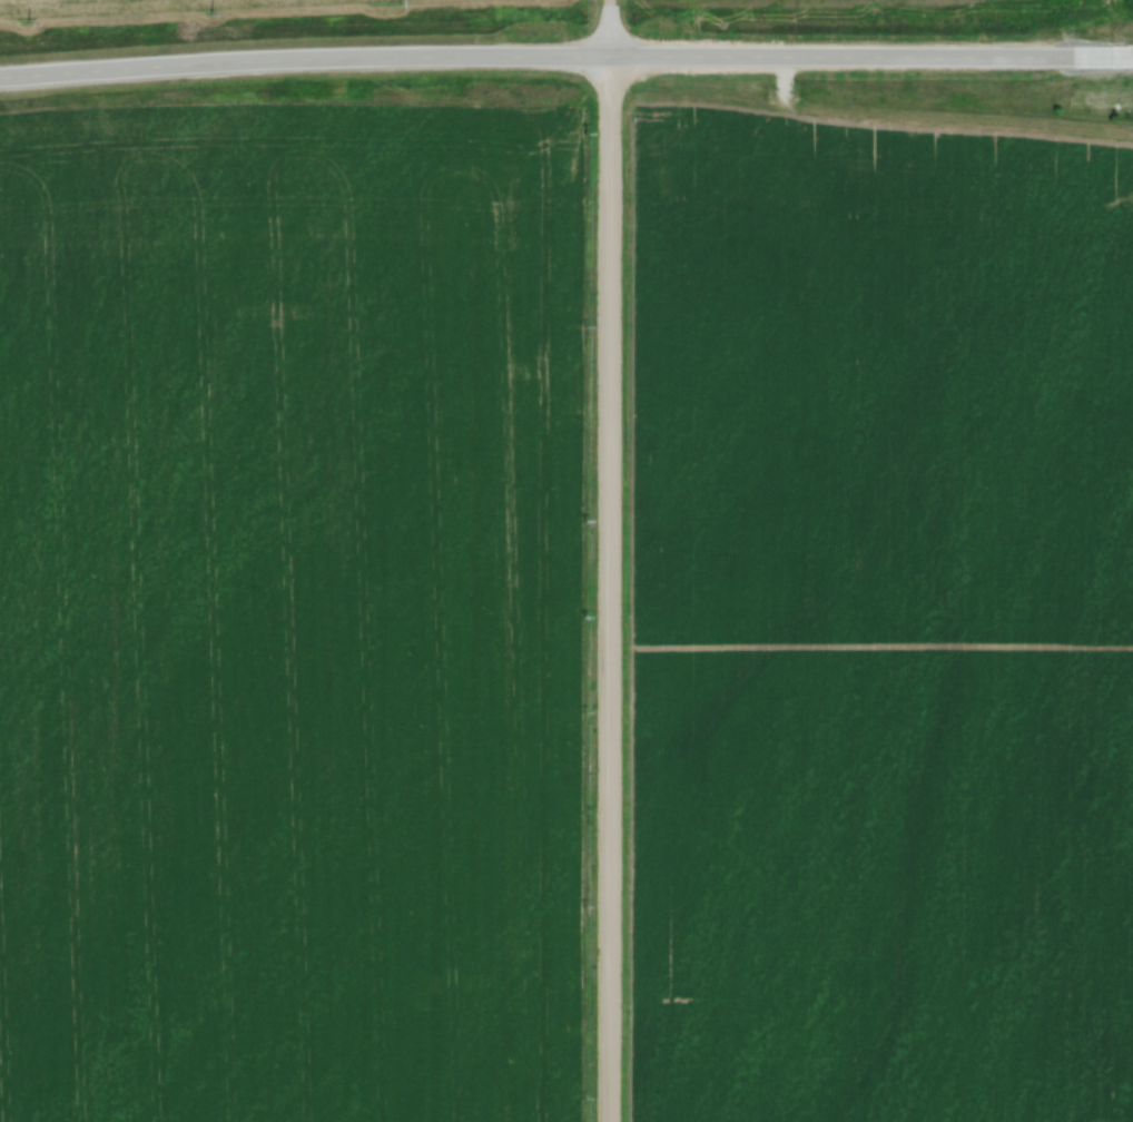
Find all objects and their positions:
road: (565, 62)
road: (609, 560)
crop: (880, 624)

